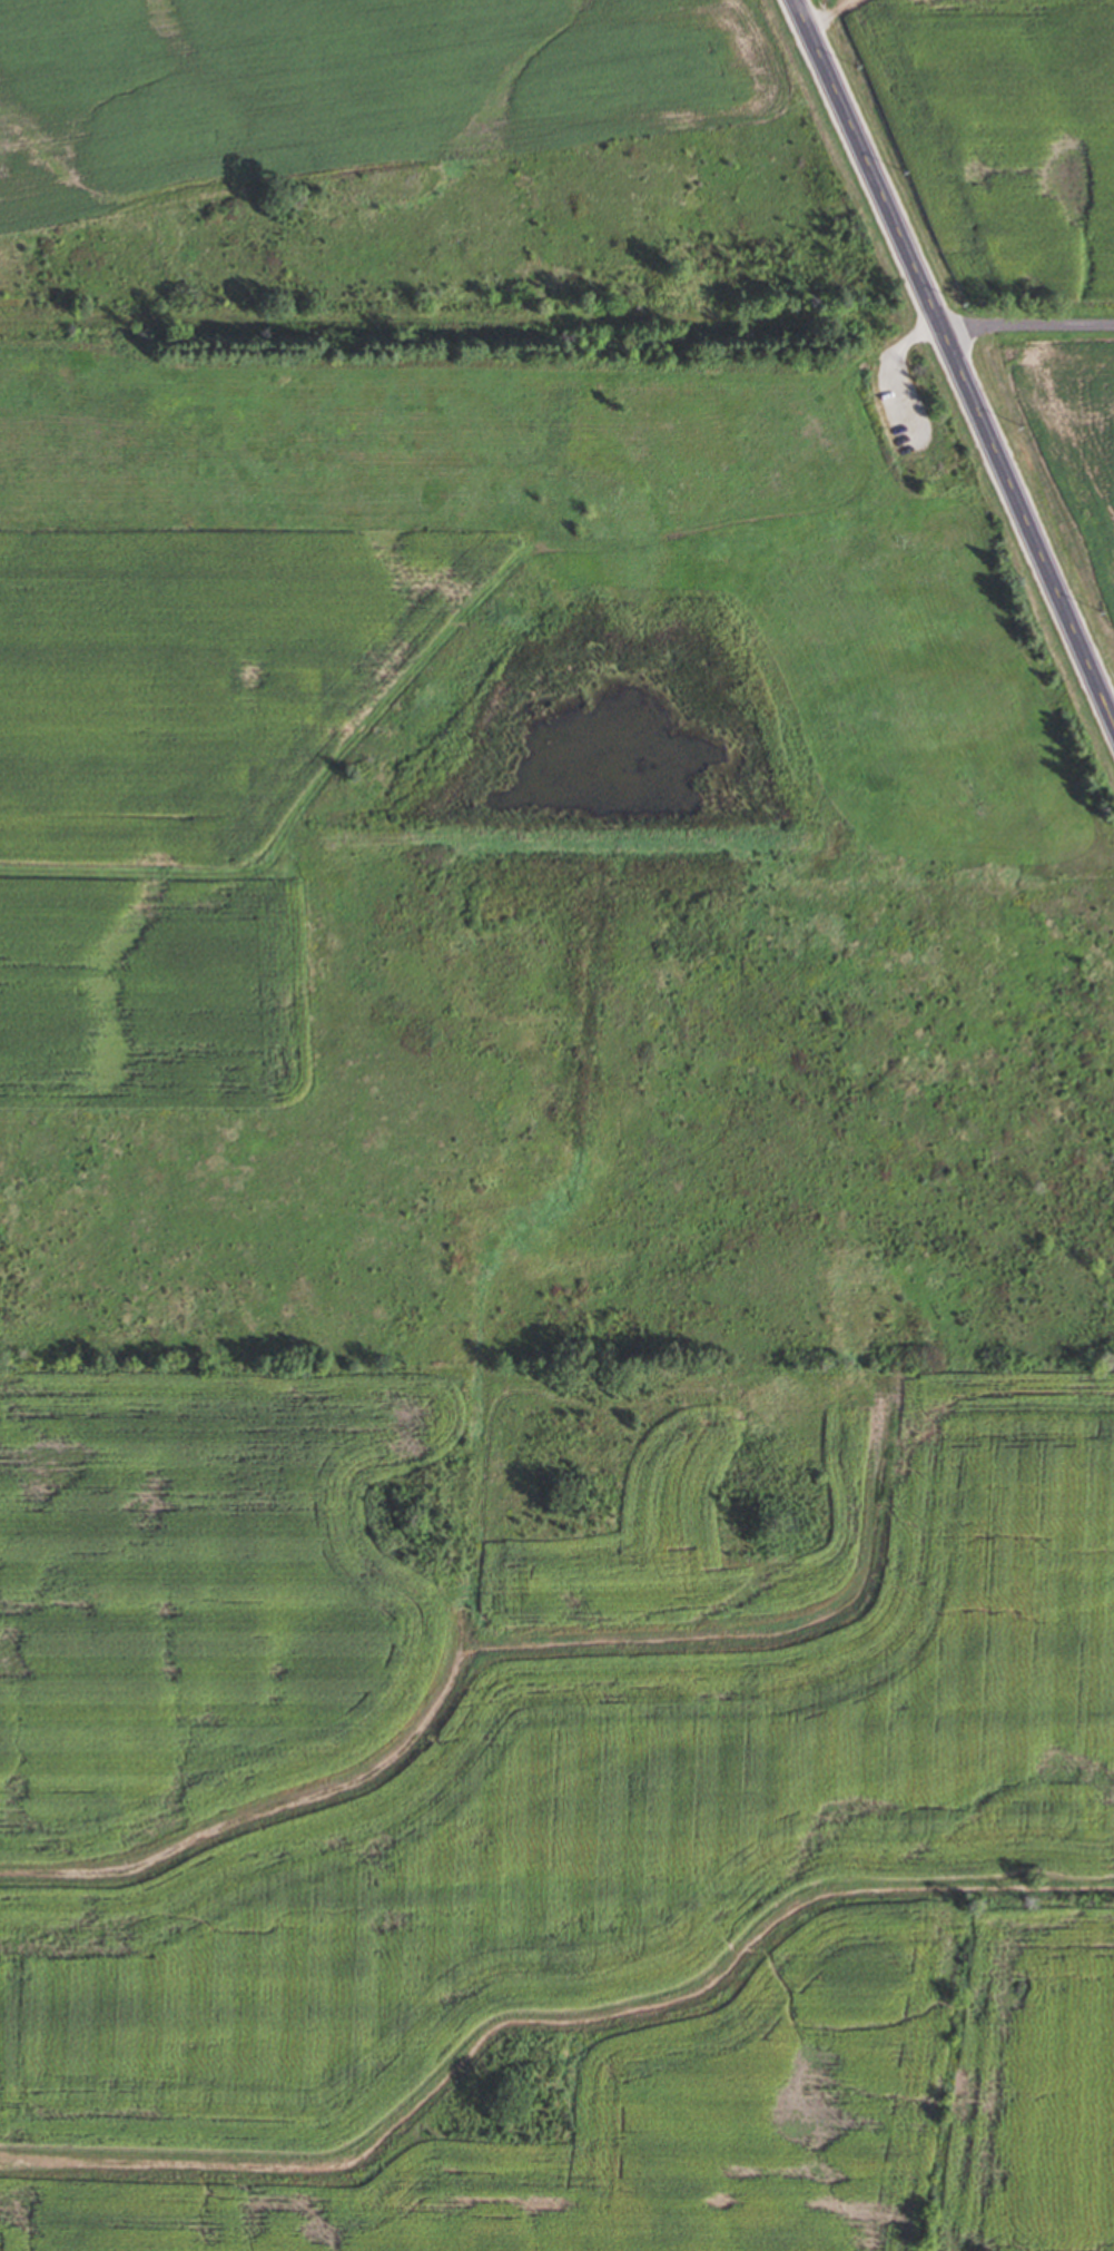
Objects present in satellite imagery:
road: (1028, 324)
road: (958, 363)

